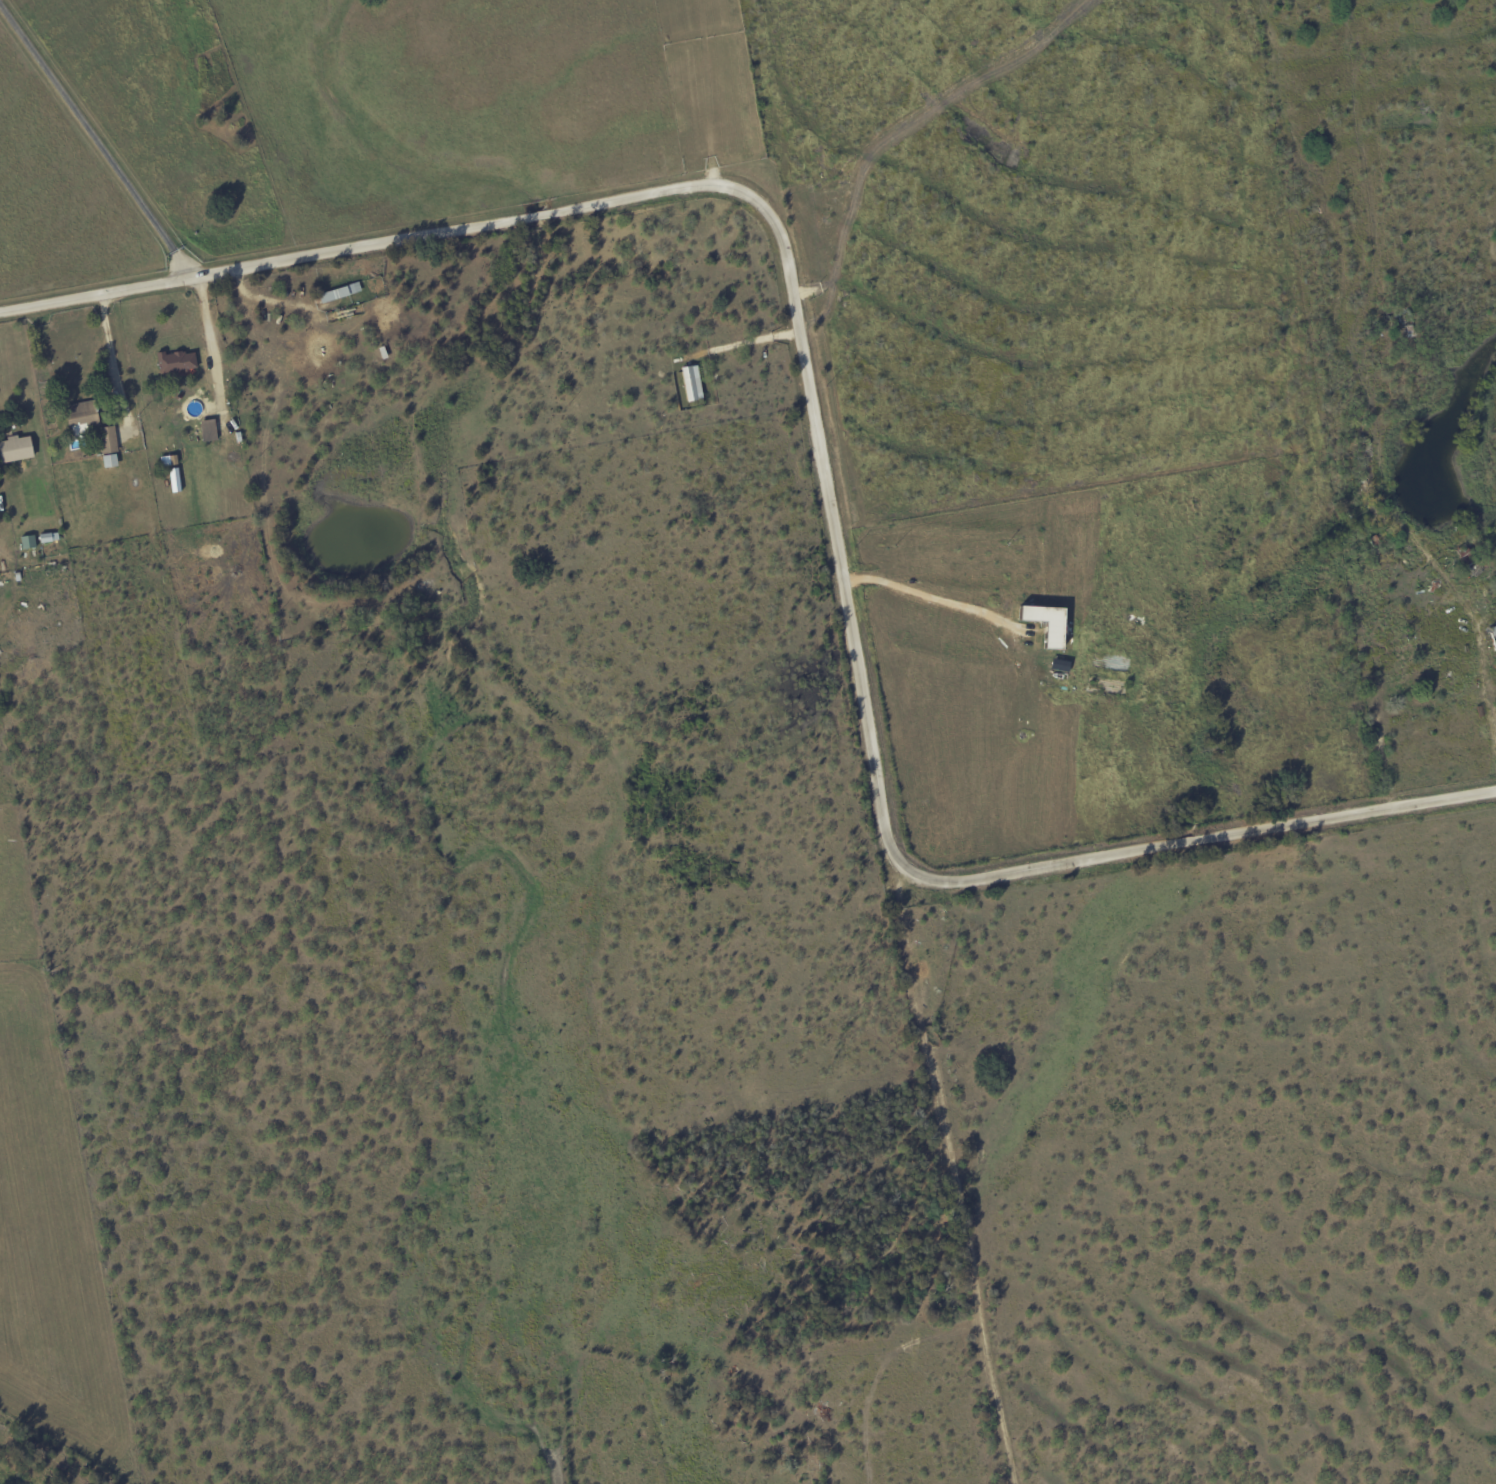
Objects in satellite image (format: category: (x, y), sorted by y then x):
road: (94, 148)
building: (338, 292)
road: (742, 341)
road: (209, 343)
road: (112, 361)
building: (175, 361)
building: (690, 382)
building: (81, 417)
building: (206, 430)
building: (107, 439)
building: (14, 449)
road: (813, 452)
building: (108, 460)
building: (27, 541)
road: (925, 602)
building: (1044, 623)
building: (1493, 636)
road: (1484, 697)

